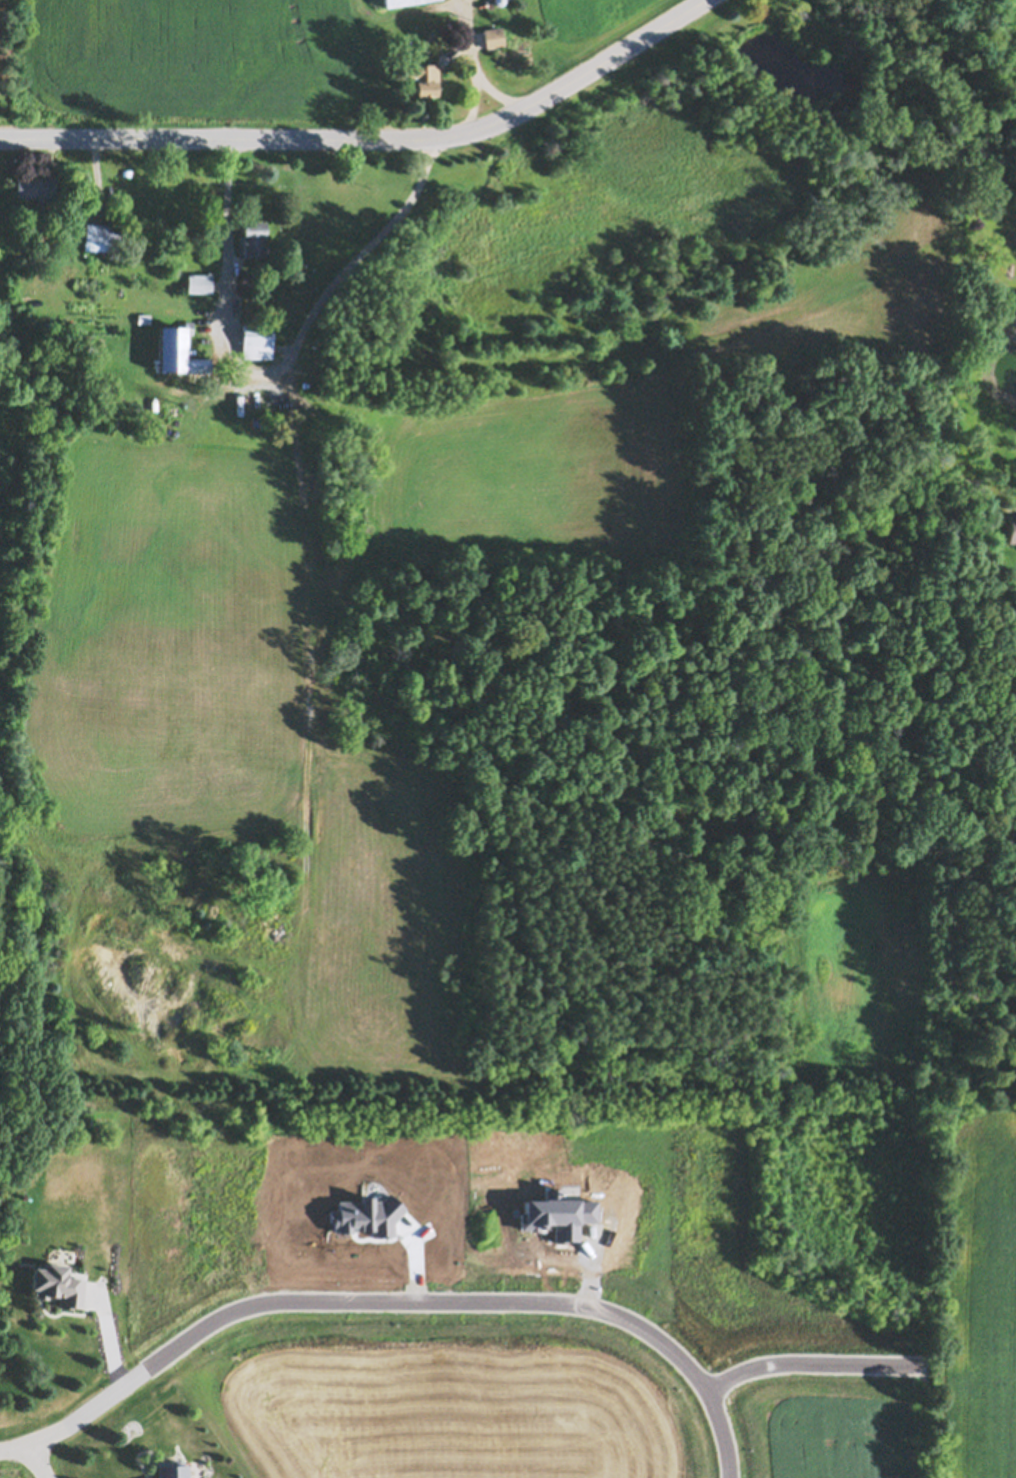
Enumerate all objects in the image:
building: (392, 1)
building: (500, 2)
building: (494, 35)
road: (483, 62)
building: (424, 74)
road: (370, 140)
building: (37, 187)
building: (101, 235)
building: (252, 235)
building: (200, 281)
building: (264, 282)
building: (24, 307)
building: (144, 318)
building: (258, 339)
building: (179, 347)
road: (288, 374)
building: (249, 399)
building: (1012, 526)
building: (733, 838)
building: (57, 1284)
road: (400, 1302)
road: (38, 1462)

